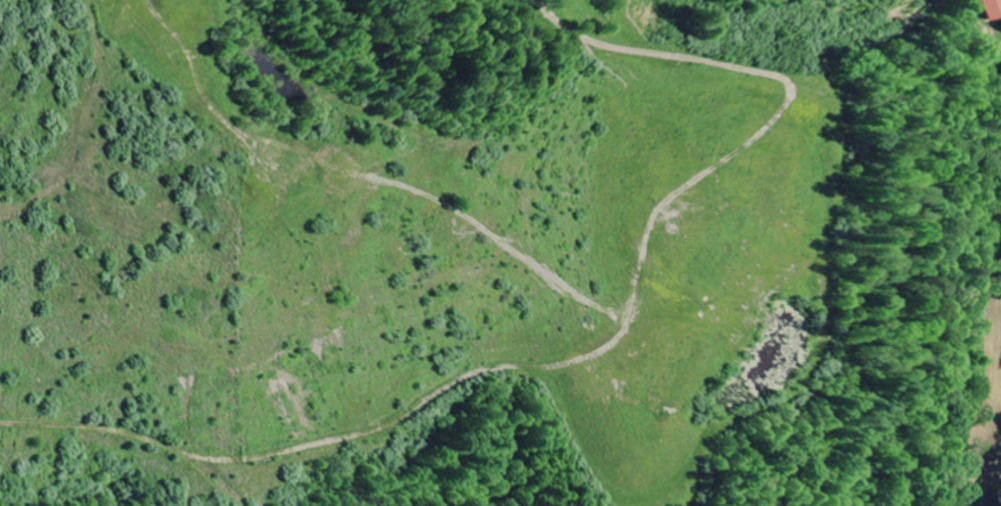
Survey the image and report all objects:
building: (985, 8)

